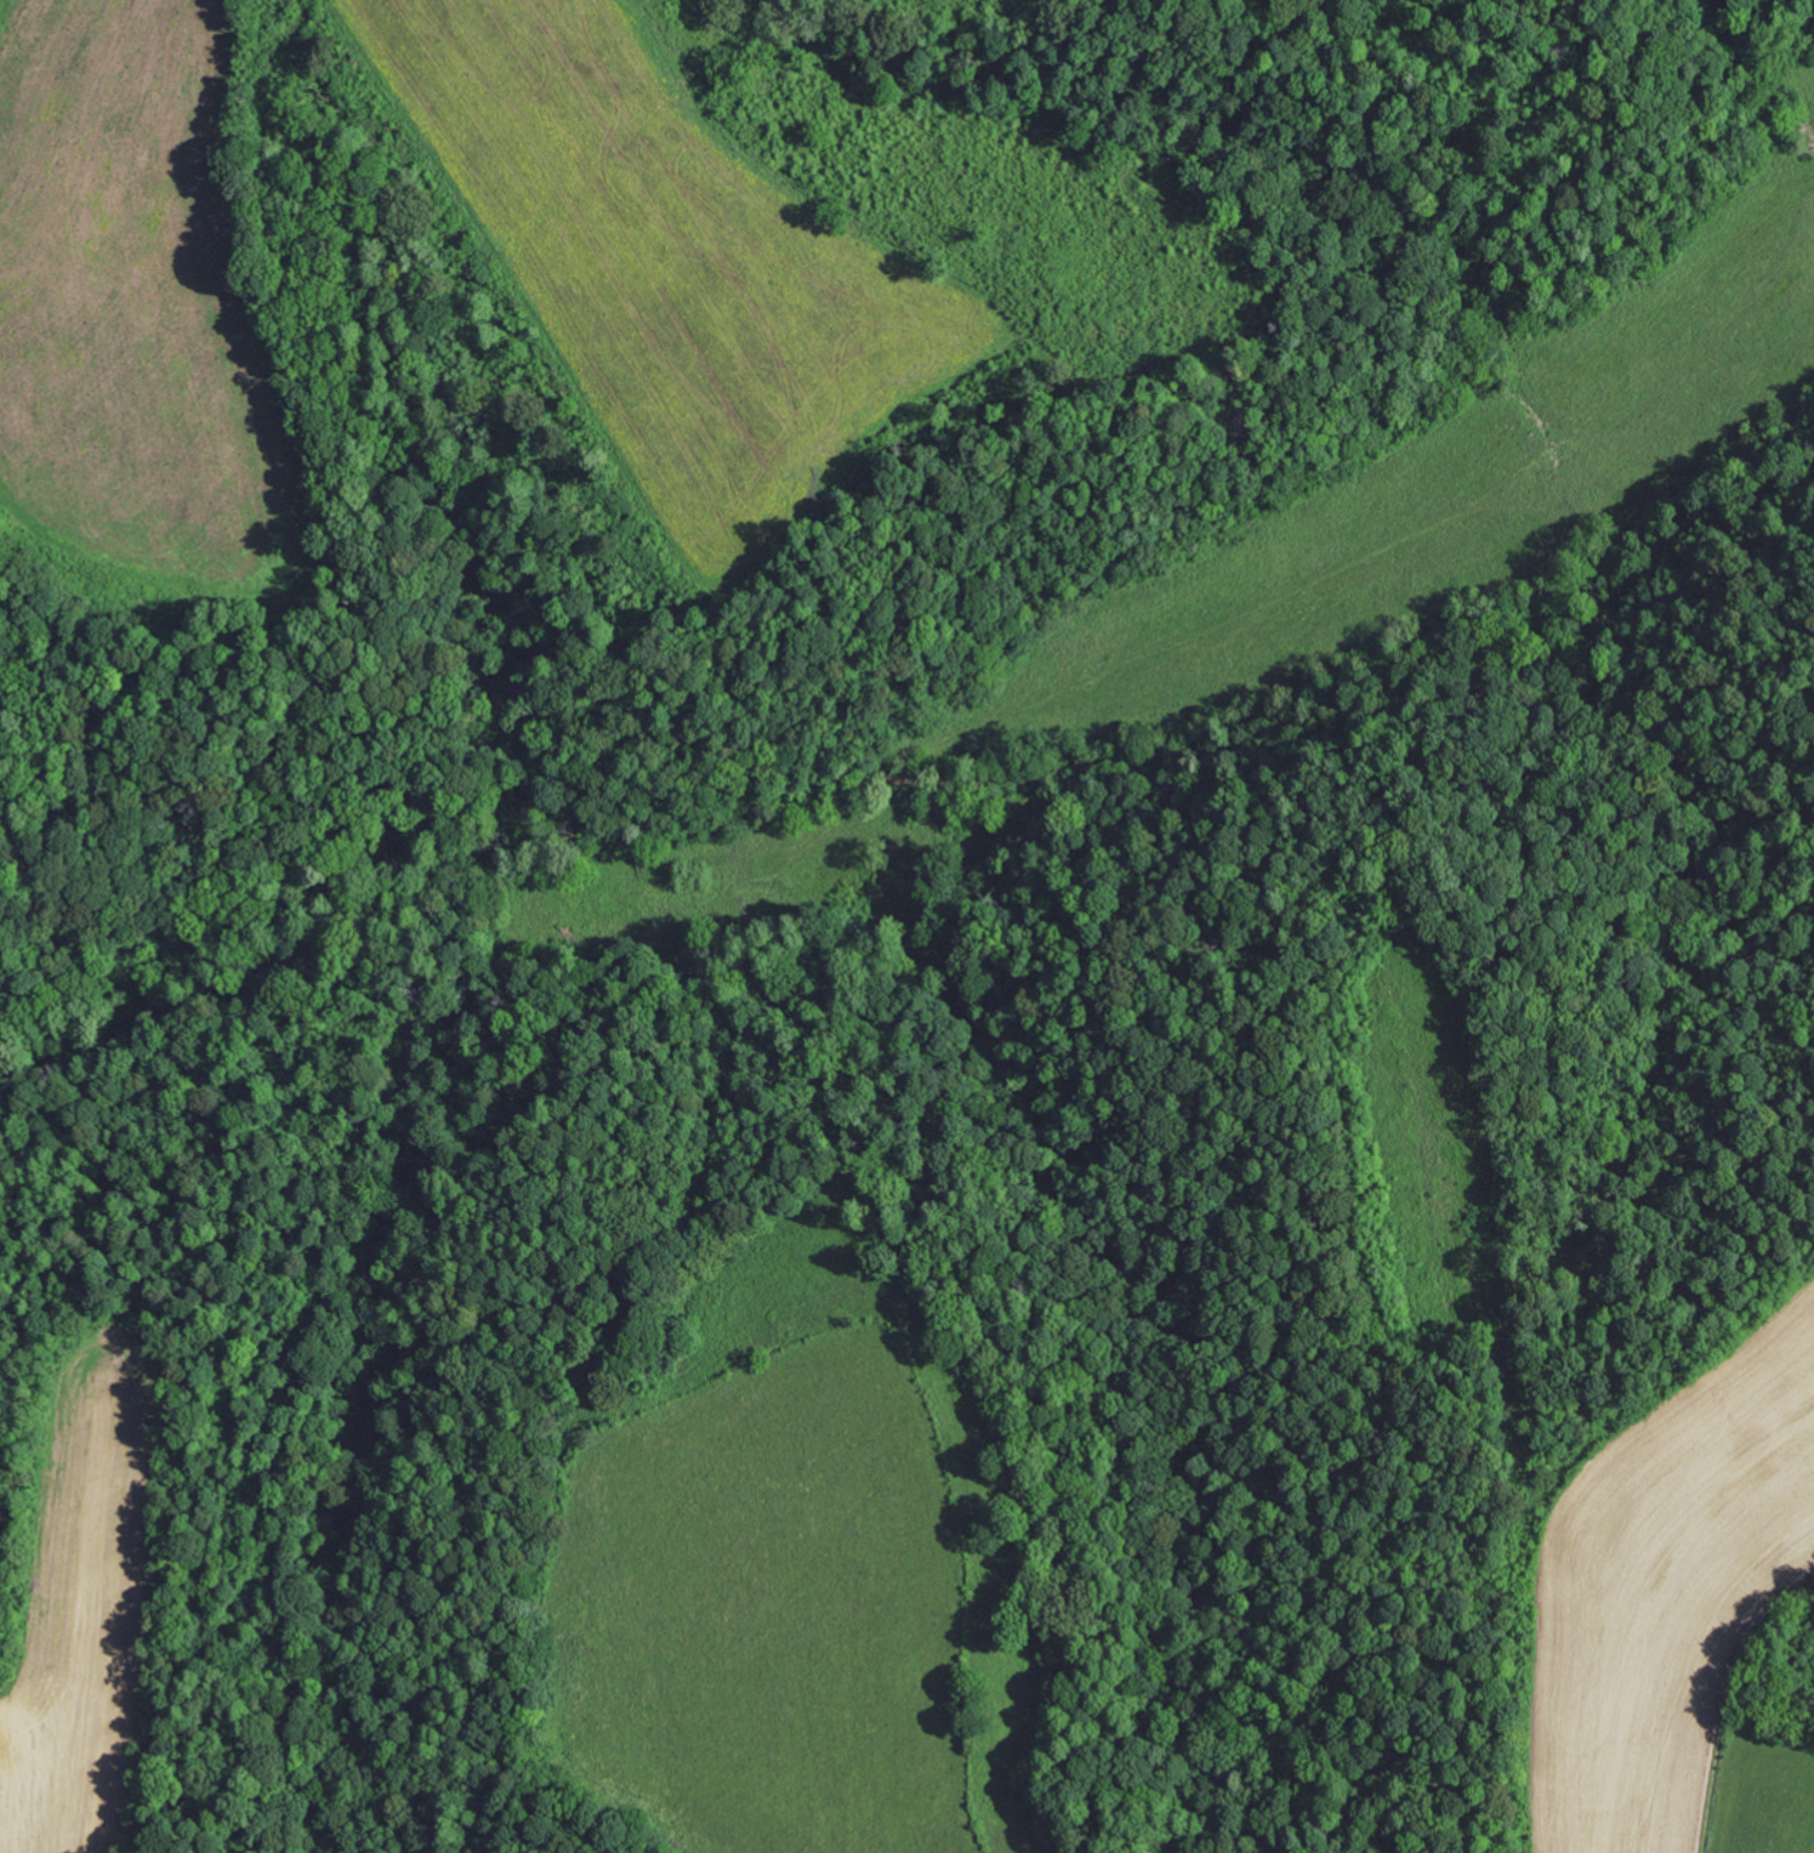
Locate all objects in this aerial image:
road: (1725, 1700)

